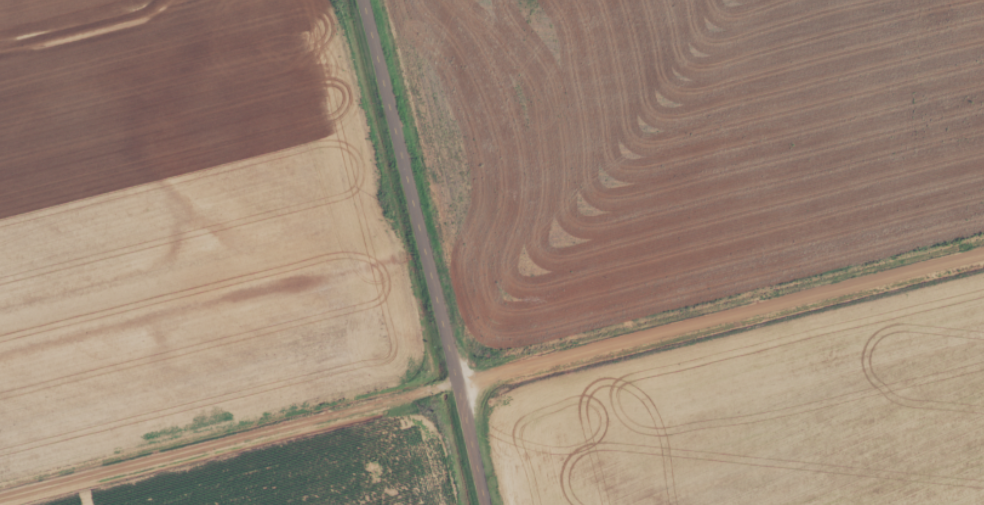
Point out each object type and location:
road: (428, 252)
road: (491, 372)

